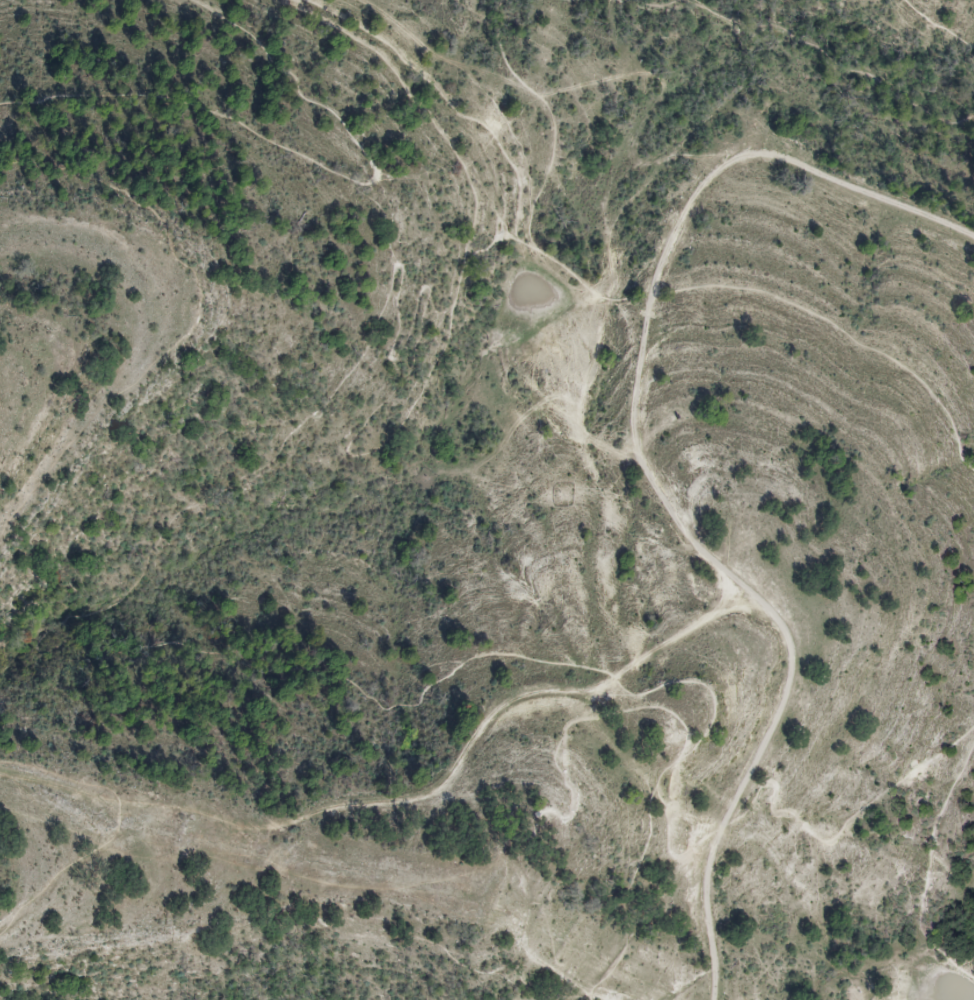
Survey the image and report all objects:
road: (935, 27)
road: (835, 50)
road: (315, 164)
road: (193, 322)
road: (841, 332)
road: (674, 517)
road: (168, 526)
road: (67, 778)
road: (733, 787)
road: (926, 866)
road: (61, 870)
road: (438, 872)
road: (590, 996)

